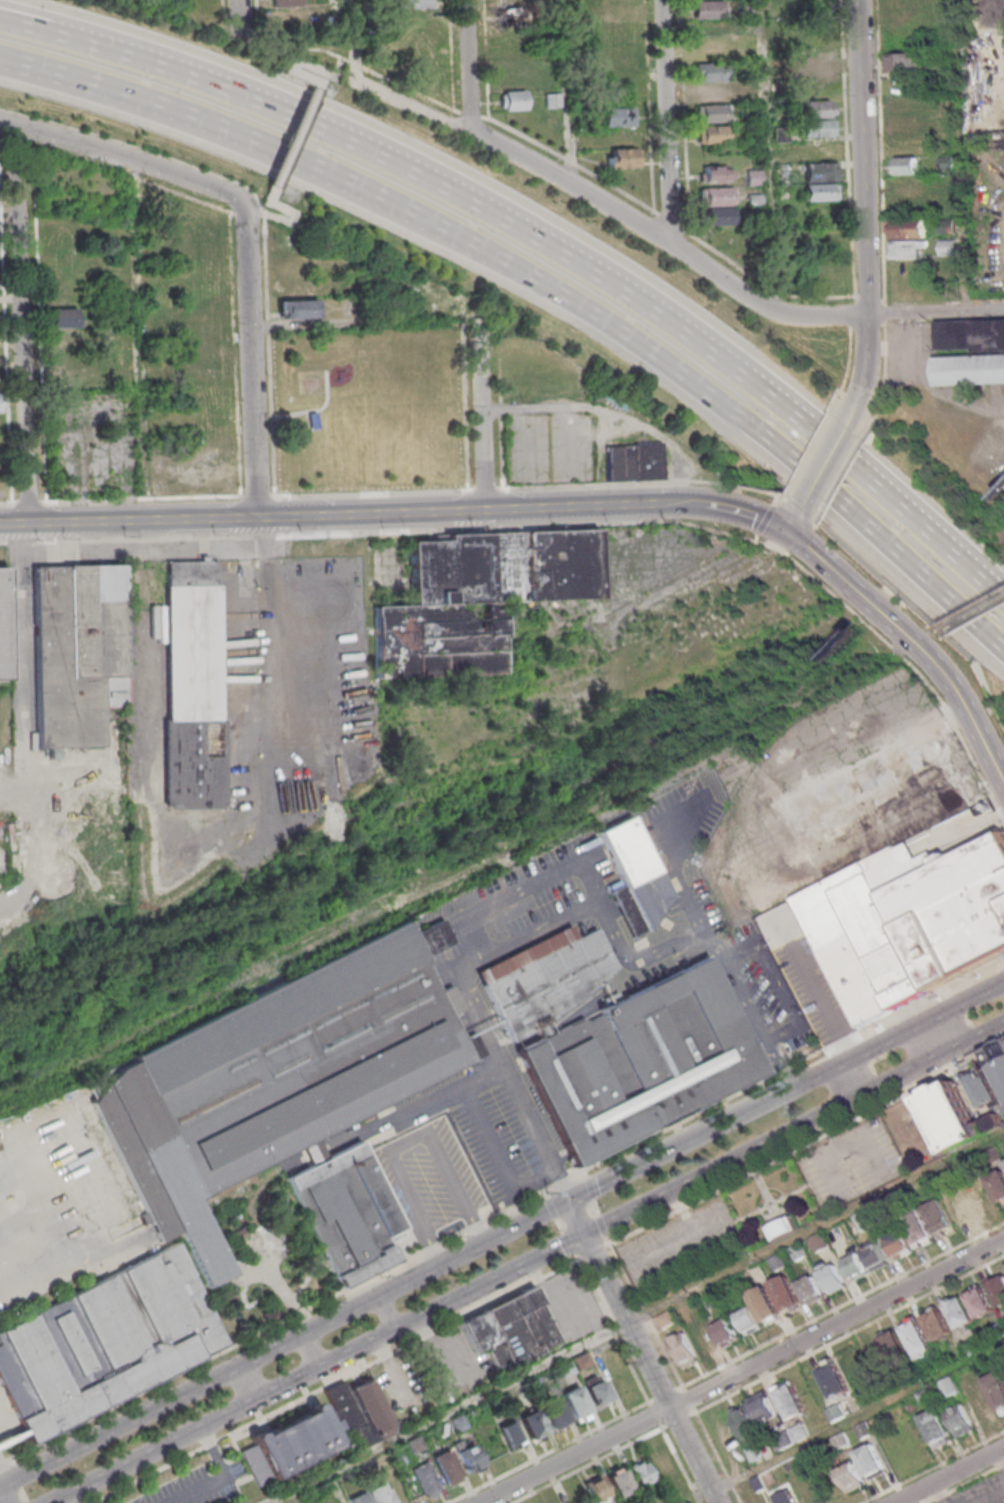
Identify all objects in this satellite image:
building: (507, 1)
building: (285, 3)
building: (415, 3)
building: (899, 4)
building: (707, 9)
building: (507, 17)
road: (235, 18)
road: (20, 19)
road: (20, 30)
road: (354, 33)
road: (246, 37)
building: (709, 49)
building: (619, 54)
road: (337, 56)
building: (903, 60)
road: (338, 66)
building: (815, 66)
road: (472, 69)
building: (709, 71)
road: (357, 73)
road: (62, 74)
building: (512, 78)
building: (711, 90)
road: (570, 93)
building: (512, 99)
building: (816, 108)
building: (711, 112)
road: (473, 114)
building: (619, 116)
road: (665, 123)
building: (907, 124)
building: (942, 126)
building: (817, 127)
road: (297, 134)
building: (711, 134)
road: (16, 141)
building: (622, 147)
road: (846, 147)
road: (881, 149)
road: (769, 155)
road: (963, 155)
road: (122, 157)
road: (572, 164)
building: (906, 165)
building: (819, 171)
building: (714, 173)
building: (908, 186)
building: (819, 191)
building: (753, 199)
building: (714, 205)
road: (241, 207)
road: (864, 211)
road: (671, 222)
building: (208, 228)
road: (264, 231)
building: (910, 238)
building: (949, 246)
road: (670, 247)
road: (561, 248)
building: (210, 249)
building: (292, 266)
building: (908, 269)
building: (821, 270)
road: (762, 283)
building: (292, 287)
building: (297, 308)
building: (209, 311)
road: (851, 311)
road: (886, 311)
building: (63, 317)
road: (597, 321)
road: (25, 325)
building: (209, 332)
building: (971, 334)
building: (62, 338)
road: (140, 340)
road: (903, 346)
building: (211, 352)
road: (250, 364)
building: (72, 369)
building: (971, 369)
road: (852, 370)
building: (210, 372)
road: (888, 378)
road: (943, 395)
park: (371, 407)
road: (479, 411)
road: (609, 412)
road: (814, 455)
building: (632, 461)
road: (828, 465)
road: (846, 475)
road: (645, 481)
road: (736, 510)
road: (770, 514)
road: (339, 515)
road: (796, 521)
road: (568, 523)
road: (819, 523)
road: (147, 535)
road: (94, 537)
road: (805, 539)
road: (127, 550)
road: (21, 553)
building: (477, 597)
building: (3, 627)
road: (913, 640)
building: (78, 647)
building: (198, 684)
road: (24, 701)
building: (337, 725)
building: (631, 873)
building: (914, 914)
road: (612, 929)
building: (544, 978)
road: (932, 1040)
building: (990, 1059)
building: (647, 1060)
building: (276, 1076)
road: (480, 1078)
road: (853, 1080)
building: (988, 1089)
road: (788, 1095)
building: (954, 1114)
building: (996, 1121)
parking lot: (463, 1149)
building: (992, 1155)
parking lot: (855, 1166)
building: (997, 1185)
building: (2, 1191)
traffic signals: (571, 1204)
road: (506, 1210)
building: (349, 1212)
building: (878, 1213)
building: (938, 1217)
building: (863, 1221)
building: (915, 1225)
building: (783, 1228)
traffic signals: (585, 1233)
building: (817, 1241)
parking lot: (681, 1243)
building: (897, 1244)
park: (264, 1252)
building: (796, 1252)
building: (876, 1257)
building: (777, 1261)
road: (526, 1262)
building: (854, 1265)
road: (70, 1267)
building: (831, 1278)
building: (998, 1286)
building: (807, 1289)
building: (783, 1294)
building: (979, 1304)
building: (762, 1305)
road: (390, 1313)
building: (959, 1313)
building: (536, 1318)
road: (637, 1319)
building: (664, 1319)
building: (747, 1320)
building: (935, 1325)
building: (723, 1331)
building: (997, 1331)
building: (512, 1333)
building: (914, 1337)
building: (705, 1340)
building: (106, 1341)
building: (486, 1341)
road: (285, 1347)
building: (971, 1347)
building: (684, 1349)
building: (893, 1350)
road: (314, 1351)
road: (646, 1353)
building: (582, 1361)
building: (567, 1368)
road: (743, 1371)
building: (831, 1379)
road: (249, 1383)
building: (948, 1387)
building: (994, 1391)
building: (597, 1392)
building: (925, 1396)
building: (789, 1399)
building: (578, 1404)
building: (981, 1405)
building: (761, 1407)
building: (362, 1411)
building: (835, 1413)
building: (557, 1414)
building: (745, 1422)
building: (958, 1422)
building: (458, 1423)
road: (847, 1424)
building: (535, 1425)
building: (722, 1428)
building: (863, 1430)
building: (935, 1430)
building: (12, 1432)
building: (798, 1432)
building: (513, 1434)
building: (780, 1440)
building: (840, 1441)
building: (415, 1444)
building: (291, 1445)
building: (752, 1453)
road: (1000, 1456)
building: (470, 1457)
building: (869, 1460)
road: (3, 1461)
building: (664, 1464)
road: (589, 1466)
building: (448, 1468)
road: (935, 1468)
building: (642, 1474)
road: (948, 1474)
road: (225, 1476)
building: (849, 1476)
building: (426, 1478)
building: (620, 1482)
road: (964, 1482)
building: (757, 1483)
parking lot: (198, 1486)
building: (597, 1490)
road: (938, 1493)
building: (380, 1494)
road: (2, 1497)
building: (782, 1497)
road: (993, 1497)
building: (361, 1499)
building: (557, 1501)

